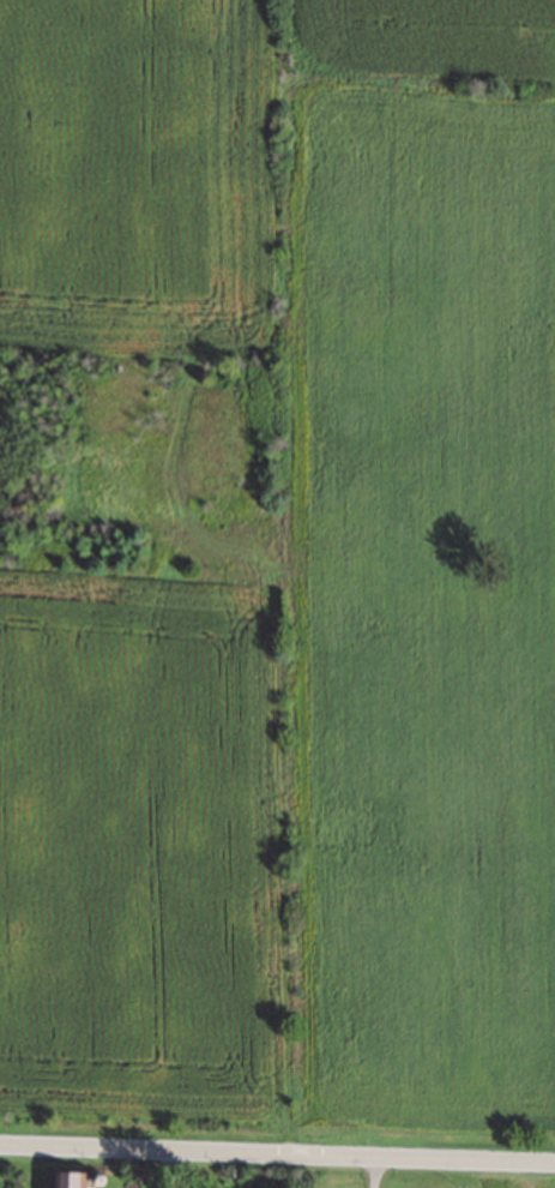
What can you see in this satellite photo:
road: (277, 1153)
road: (360, 1172)
building: (79, 1178)

